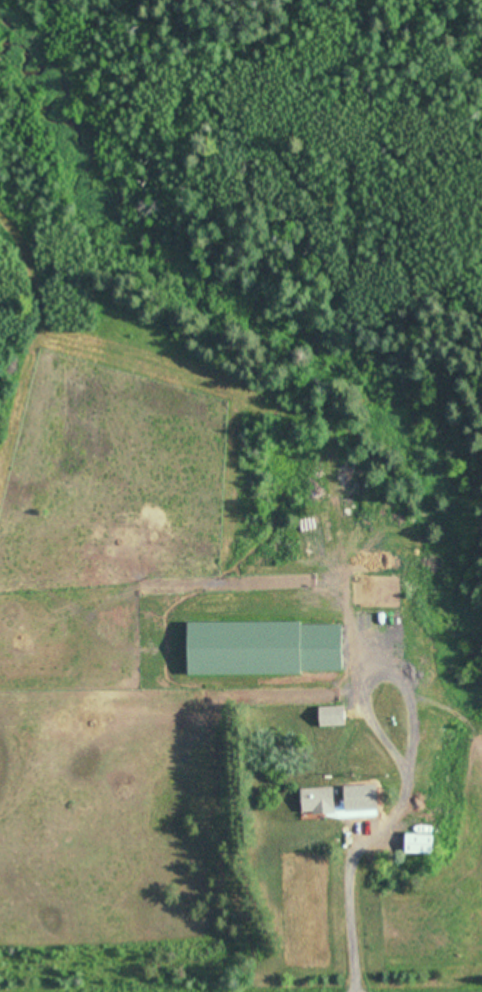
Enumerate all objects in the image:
building: (264, 648)
building: (331, 716)
building: (317, 800)
building: (355, 801)
building: (419, 843)

